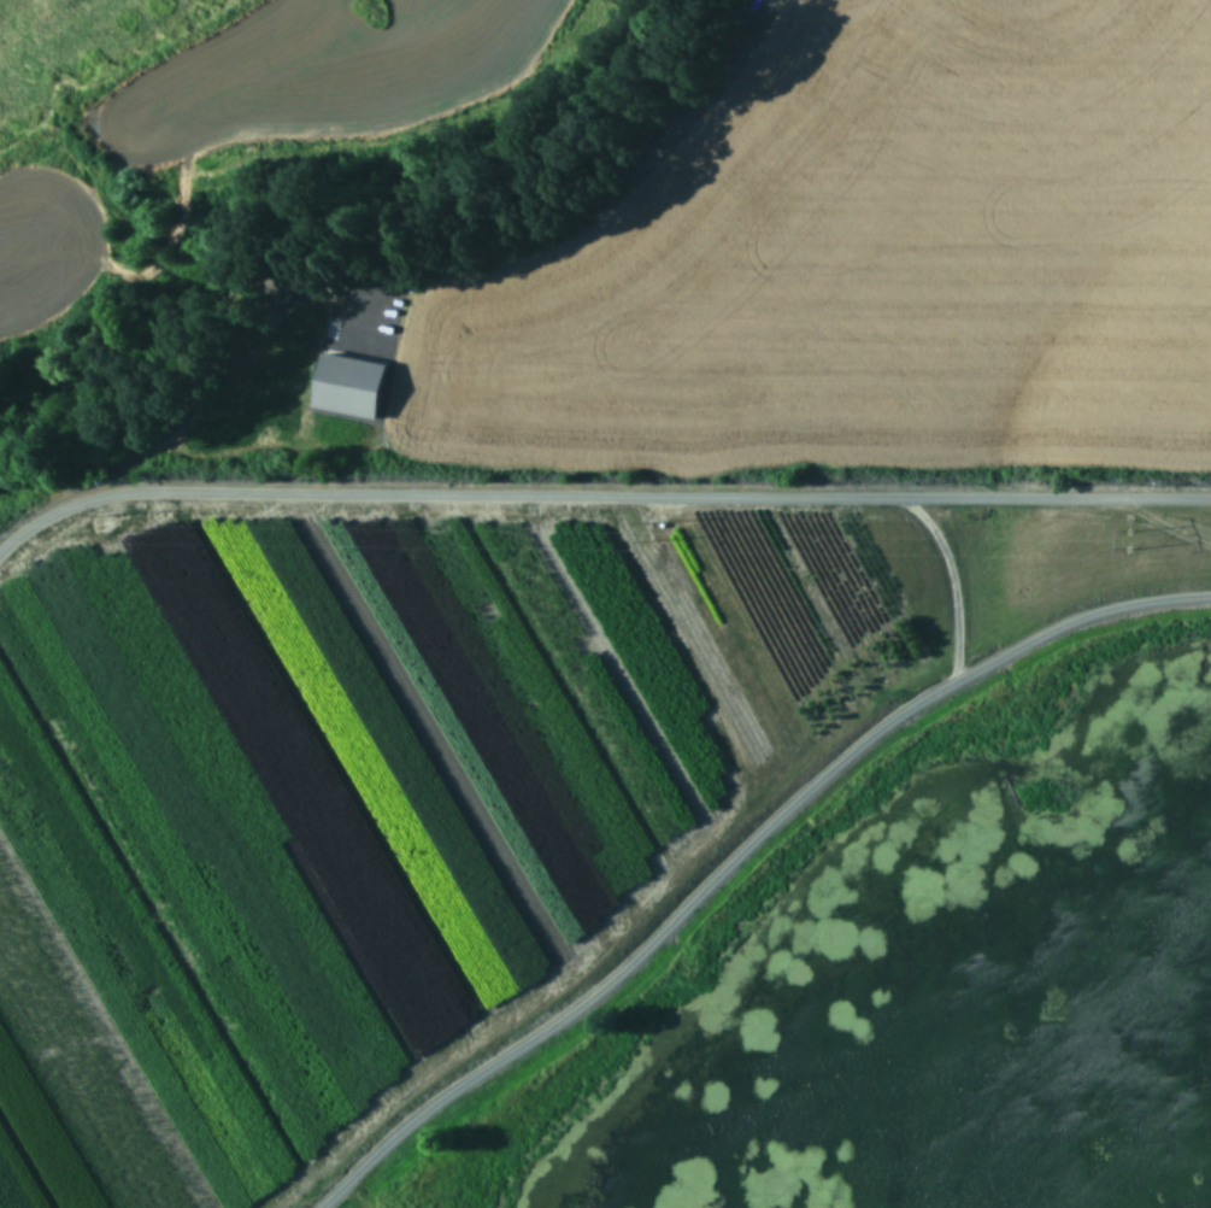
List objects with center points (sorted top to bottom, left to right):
crop: (195, 109)
building: (351, 386)
road: (598, 494)
power tower: (102, 517)
power tower: (656, 528)
power tower: (1127, 535)
road: (948, 574)
crop: (664, 681)
road: (729, 848)

